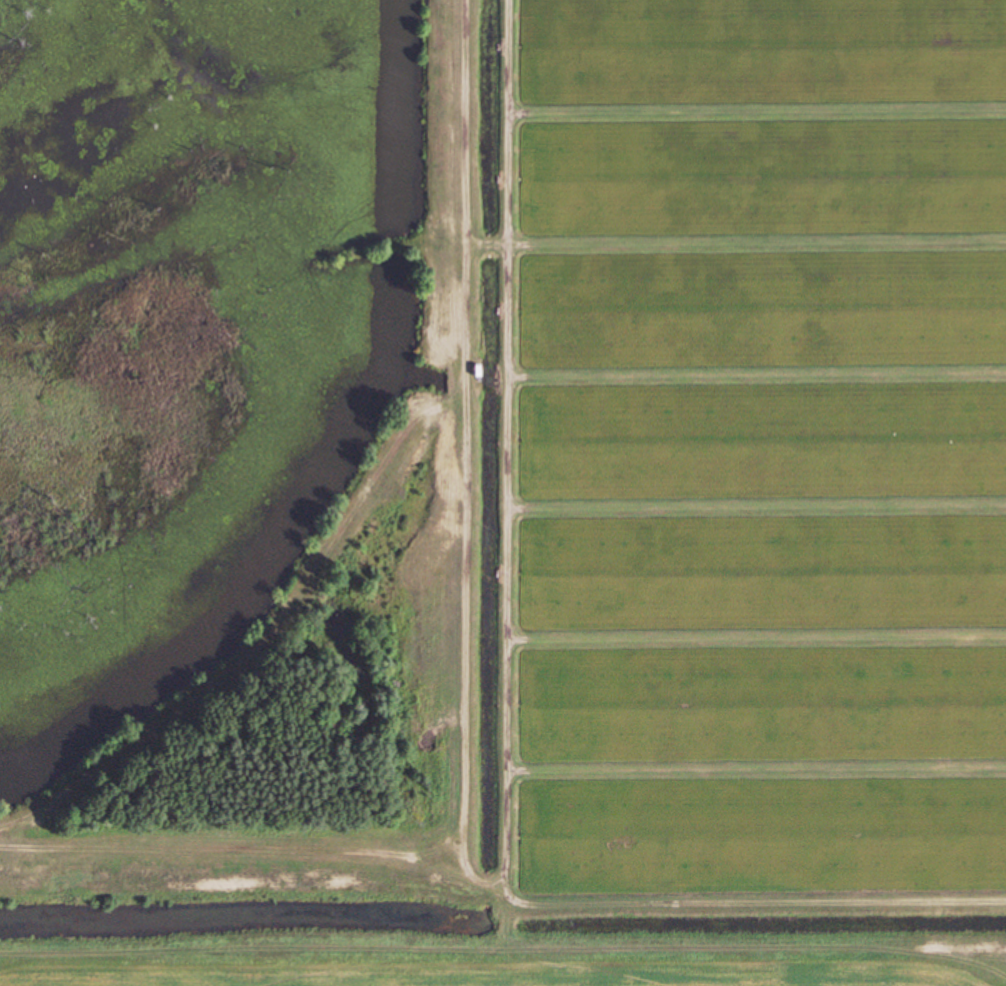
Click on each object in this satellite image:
crop: (747, 460)
crop: (437, 971)

